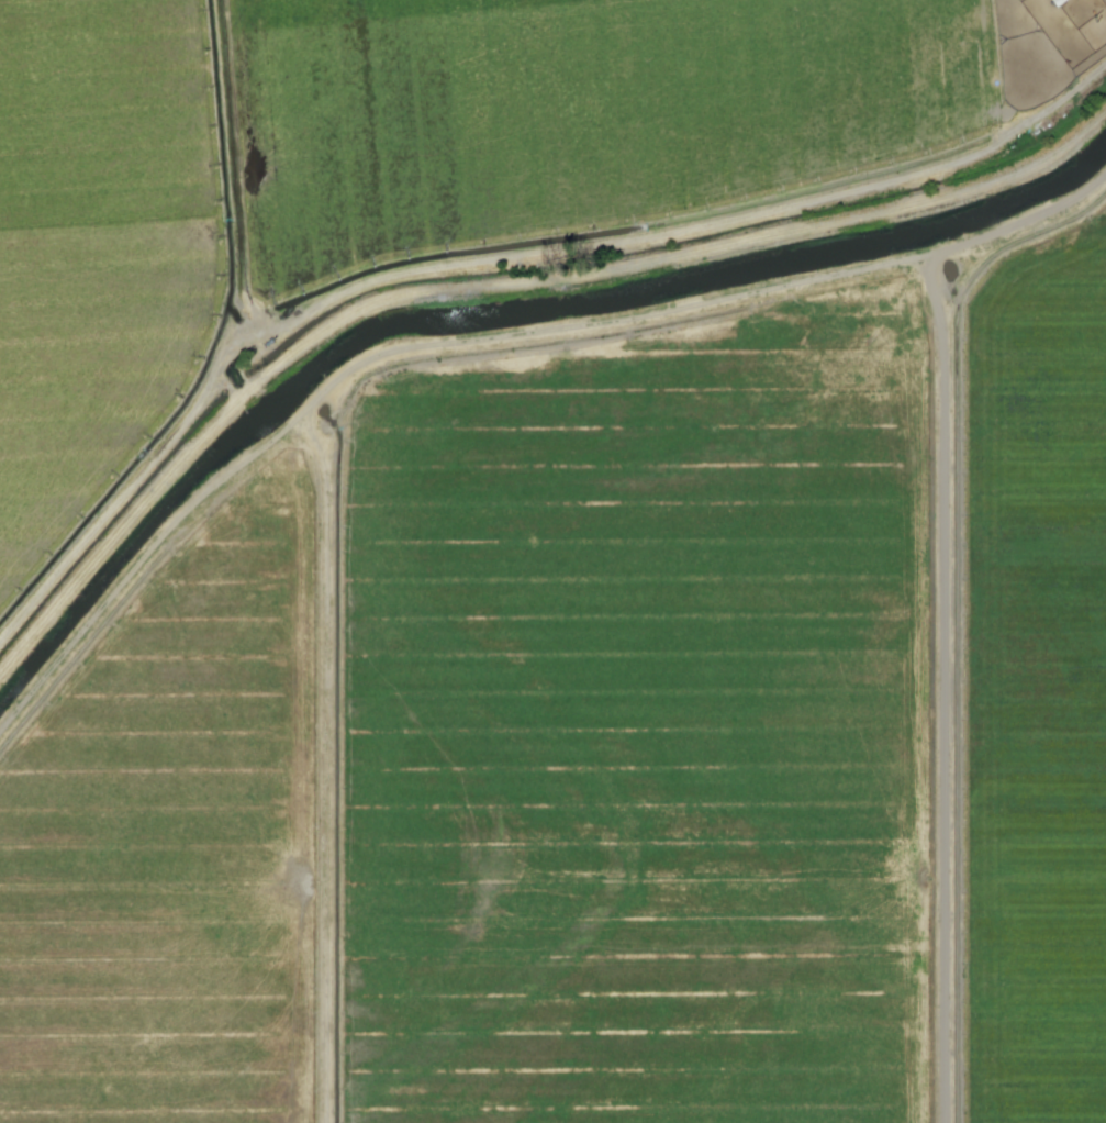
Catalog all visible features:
building: (1060, 2)

